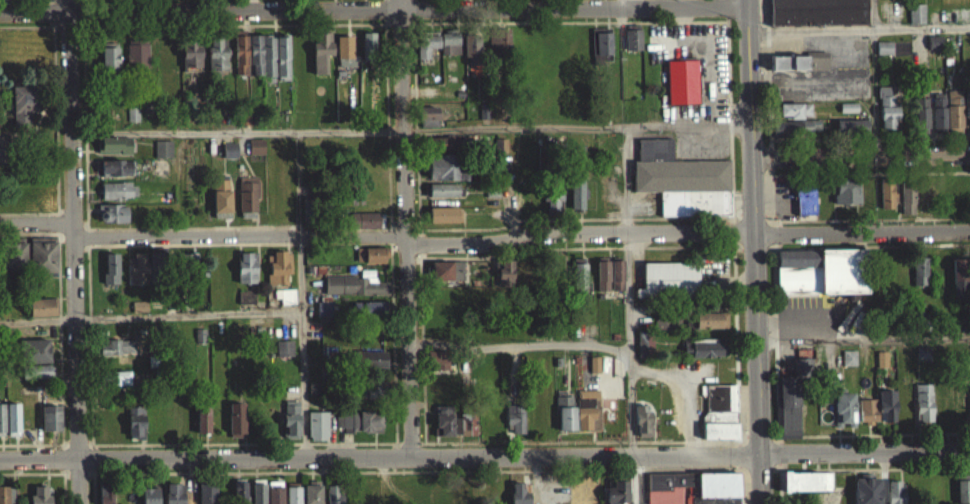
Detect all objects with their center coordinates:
road: (618, 3)
road: (1, 6)
road: (373, 9)
road: (53, 12)
road: (871, 13)
building: (817, 16)
building: (916, 21)
road: (33, 24)
road: (858, 26)
building: (498, 47)
building: (632, 47)
building: (367, 50)
building: (934, 50)
building: (425, 51)
building: (449, 51)
building: (600, 52)
building: (884, 55)
building: (471, 57)
building: (343, 58)
building: (320, 59)
building: (216, 60)
building: (136, 62)
building: (239, 62)
building: (261, 63)
building: (190, 64)
building: (108, 66)
road: (768, 69)
building: (800, 70)
building: (681, 89)
building: (25, 103)
road: (69, 111)
road: (397, 114)
building: (886, 117)
building: (966, 117)
building: (953, 118)
building: (131, 122)
building: (938, 122)
building: (920, 123)
road: (56, 124)
building: (242, 124)
building: (427, 124)
building: (798, 125)
building: (851, 134)
road: (870, 137)
building: (4, 147)
building: (112, 153)
road: (861, 153)
building: (254, 154)
building: (162, 156)
building: (654, 156)
building: (228, 158)
road: (861, 171)
building: (10, 172)
building: (158, 174)
building: (444, 175)
building: (115, 176)
building: (219, 192)
building: (685, 193)
building: (443, 197)
building: (924, 197)
building: (118, 198)
building: (845, 199)
building: (246, 202)
building: (576, 202)
building: (885, 202)
building: (553, 205)
building: (906, 205)
building: (804, 207)
building: (220, 211)
road: (36, 212)
road: (861, 217)
building: (112, 221)
building: (443, 222)
road: (36, 224)
building: (366, 228)
road: (29, 231)
road: (684, 231)
road: (236, 234)
road: (861, 243)
road: (405, 248)
road: (754, 251)
building: (14, 254)
building: (44, 255)
building: (370, 262)
building: (185, 269)
building: (921, 269)
building: (821, 270)
building: (143, 275)
building: (277, 275)
building: (110, 276)
building: (245, 276)
building: (961, 277)
building: (447, 278)
building: (504, 279)
building: (601, 282)
building: (615, 282)
building: (578, 283)
building: (668, 287)
building: (353, 293)
building: (245, 304)
building: (285, 304)
building: (44, 306)
road: (188, 313)
building: (42, 314)
building: (139, 314)
building: (323, 317)
building: (368, 317)
road: (37, 319)
building: (923, 323)
building: (11, 328)
building: (662, 328)
building: (710, 328)
road: (863, 338)
road: (403, 340)
road: (303, 344)
building: (35, 350)
building: (924, 350)
building: (642, 351)
building: (116, 355)
building: (284, 356)
building: (704, 356)
road: (76, 363)
road: (61, 364)
building: (848, 365)
building: (370, 367)
building: (881, 367)
building: (439, 369)
building: (38, 370)
building: (593, 372)
building: (41, 379)
building: (3, 381)
building: (118, 385)
building: (371, 398)
building: (962, 404)
building: (791, 406)
building: (923, 410)
building: (886, 412)
building: (843, 416)
building: (2, 417)
building: (14, 418)
building: (52, 418)
building: (586, 418)
building: (866, 419)
building: (564, 421)
building: (202, 426)
building: (513, 426)
building: (235, 427)
building: (290, 427)
building: (442, 428)
building: (642, 428)
building: (358, 429)
building: (135, 430)
building: (463, 432)
road: (864, 432)
building: (317, 433)
road: (39, 442)
road: (484, 451)
road: (927, 465)
road: (39, 471)
road: (885, 475)
road: (634, 477)
building: (805, 489)
building: (691, 492)
building: (865, 494)
building: (8, 495)
building: (40, 495)
building: (239, 495)
building: (257, 495)
building: (274, 496)
building: (617, 496)
building: (894, 496)
building: (962, 496)
building: (173, 497)
building: (206, 497)
building: (311, 497)
building: (517, 497)
building: (576, 497)
building: (105, 498)
building: (334, 498)
building: (149, 499)
building: (292, 499)

